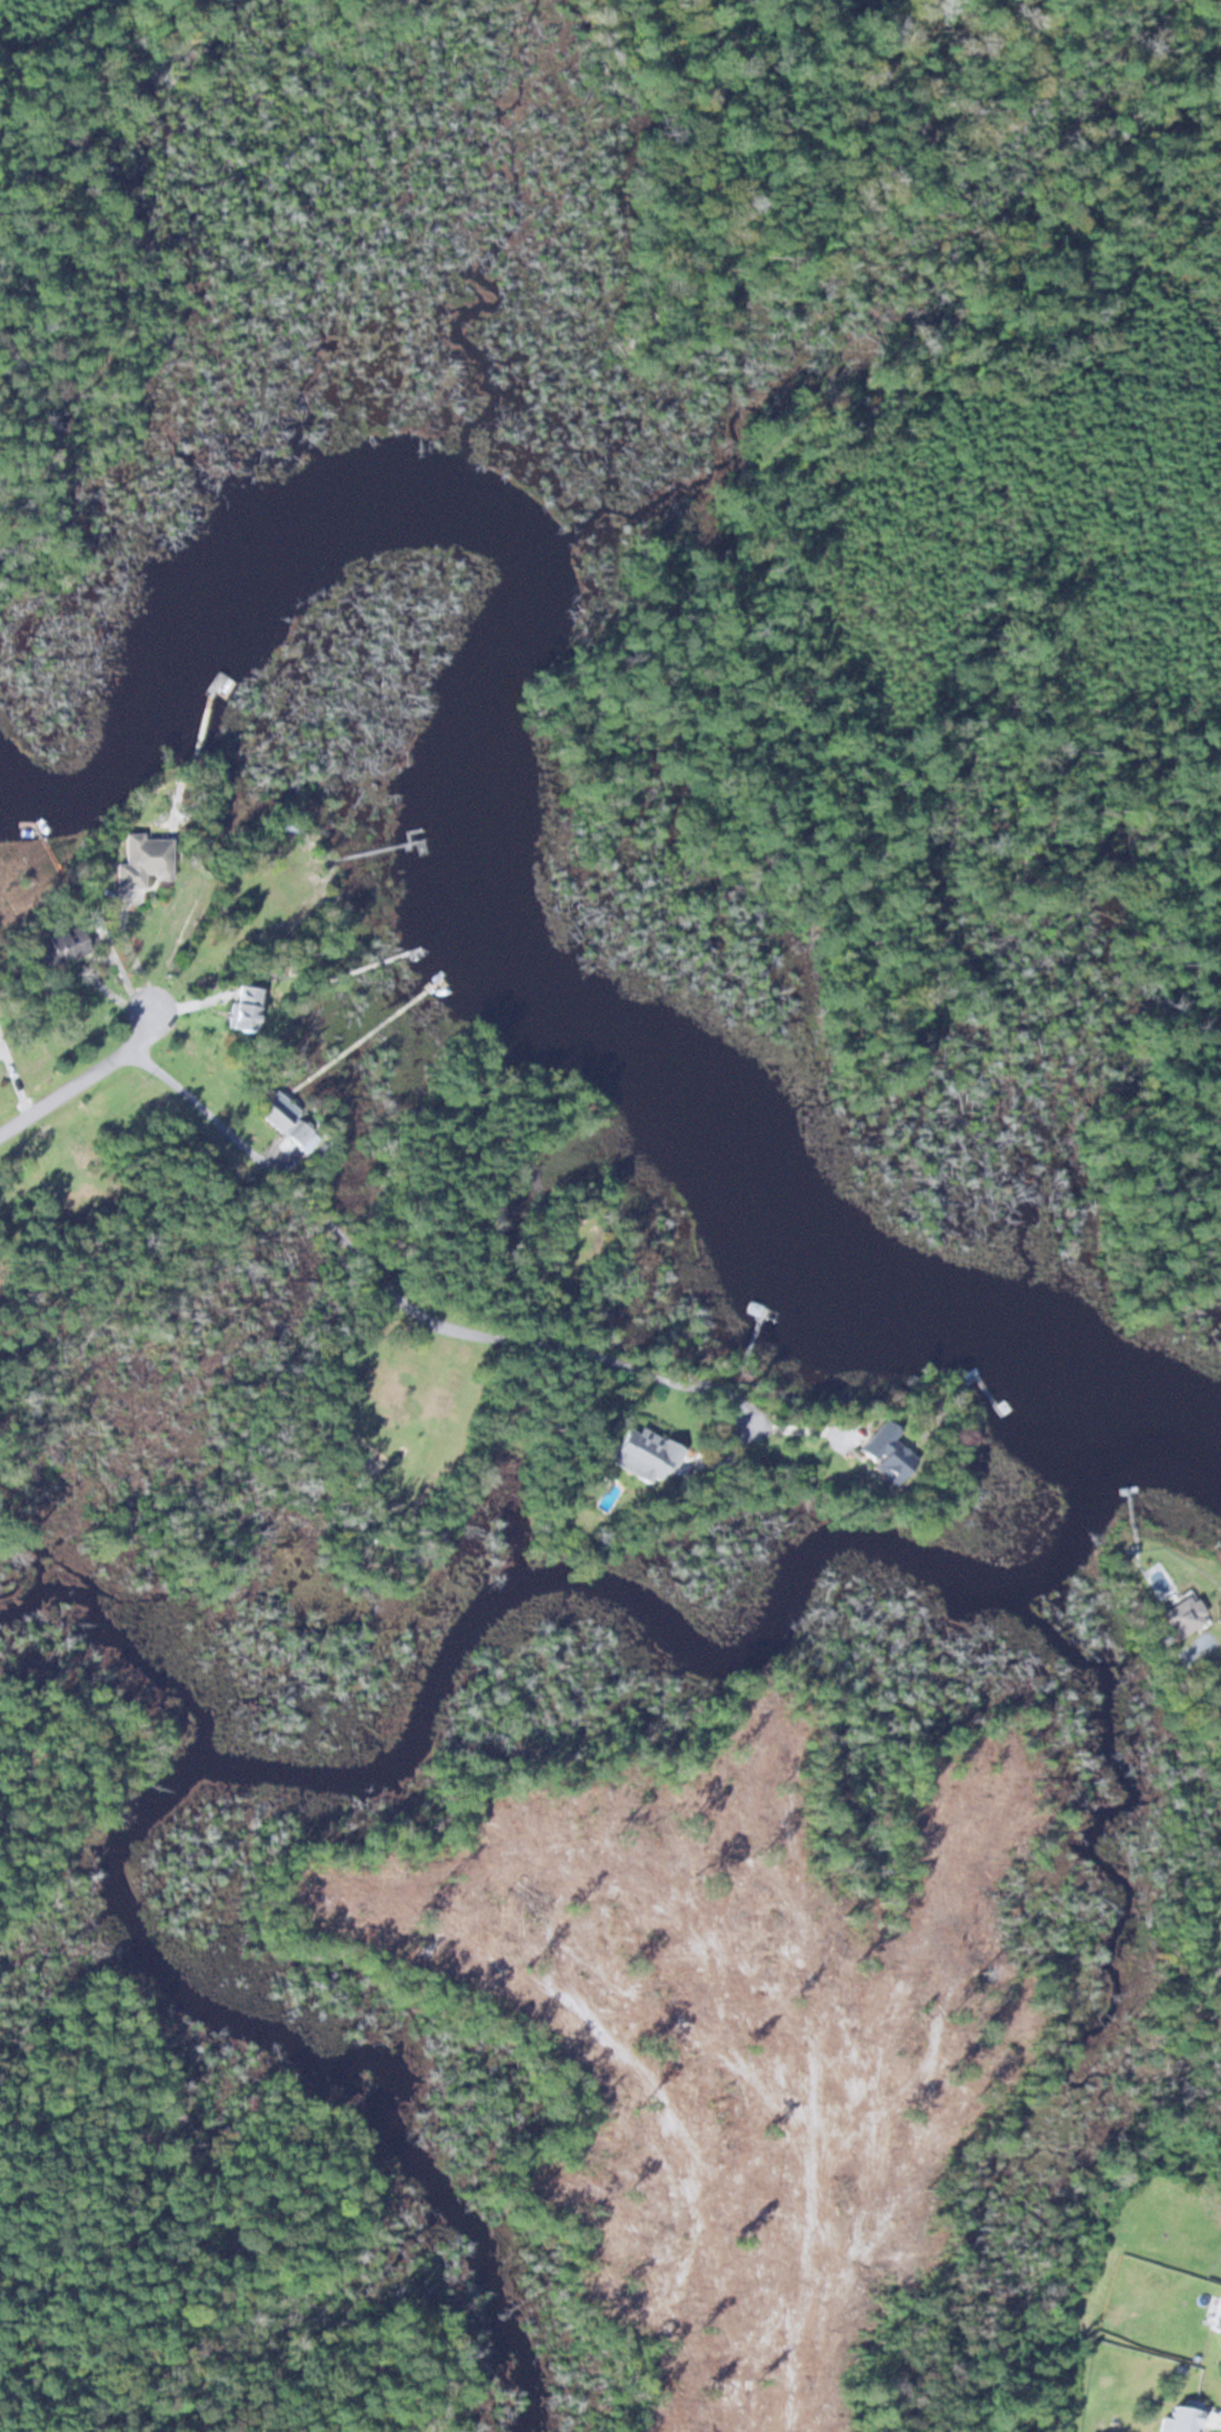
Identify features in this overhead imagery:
building: (144, 860)
building: (64, 947)
building: (247, 1008)
road: (83, 1079)
building: (278, 1112)
building: (303, 1136)
road: (401, 1312)
building: (887, 1452)
building: (647, 1455)
building: (1185, 1616)
building: (1209, 2309)
building: (1169, 2414)

